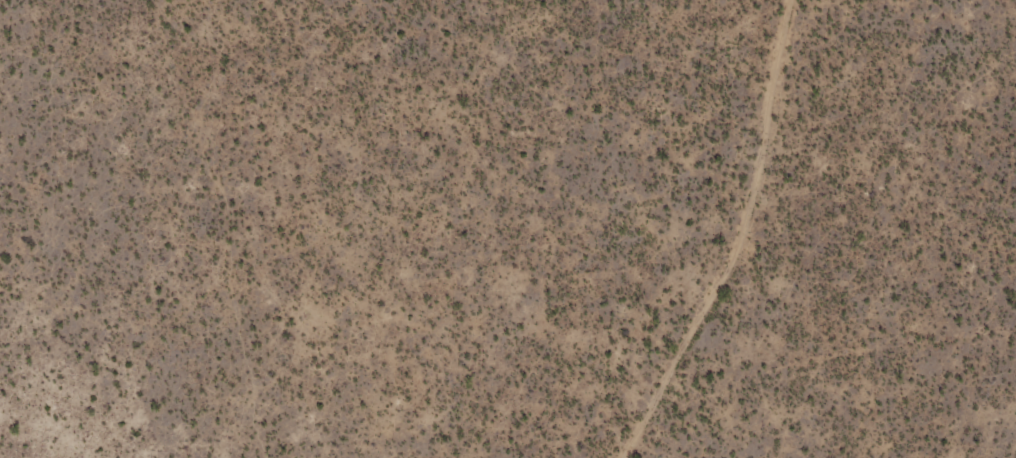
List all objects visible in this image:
road: (745, 230)

